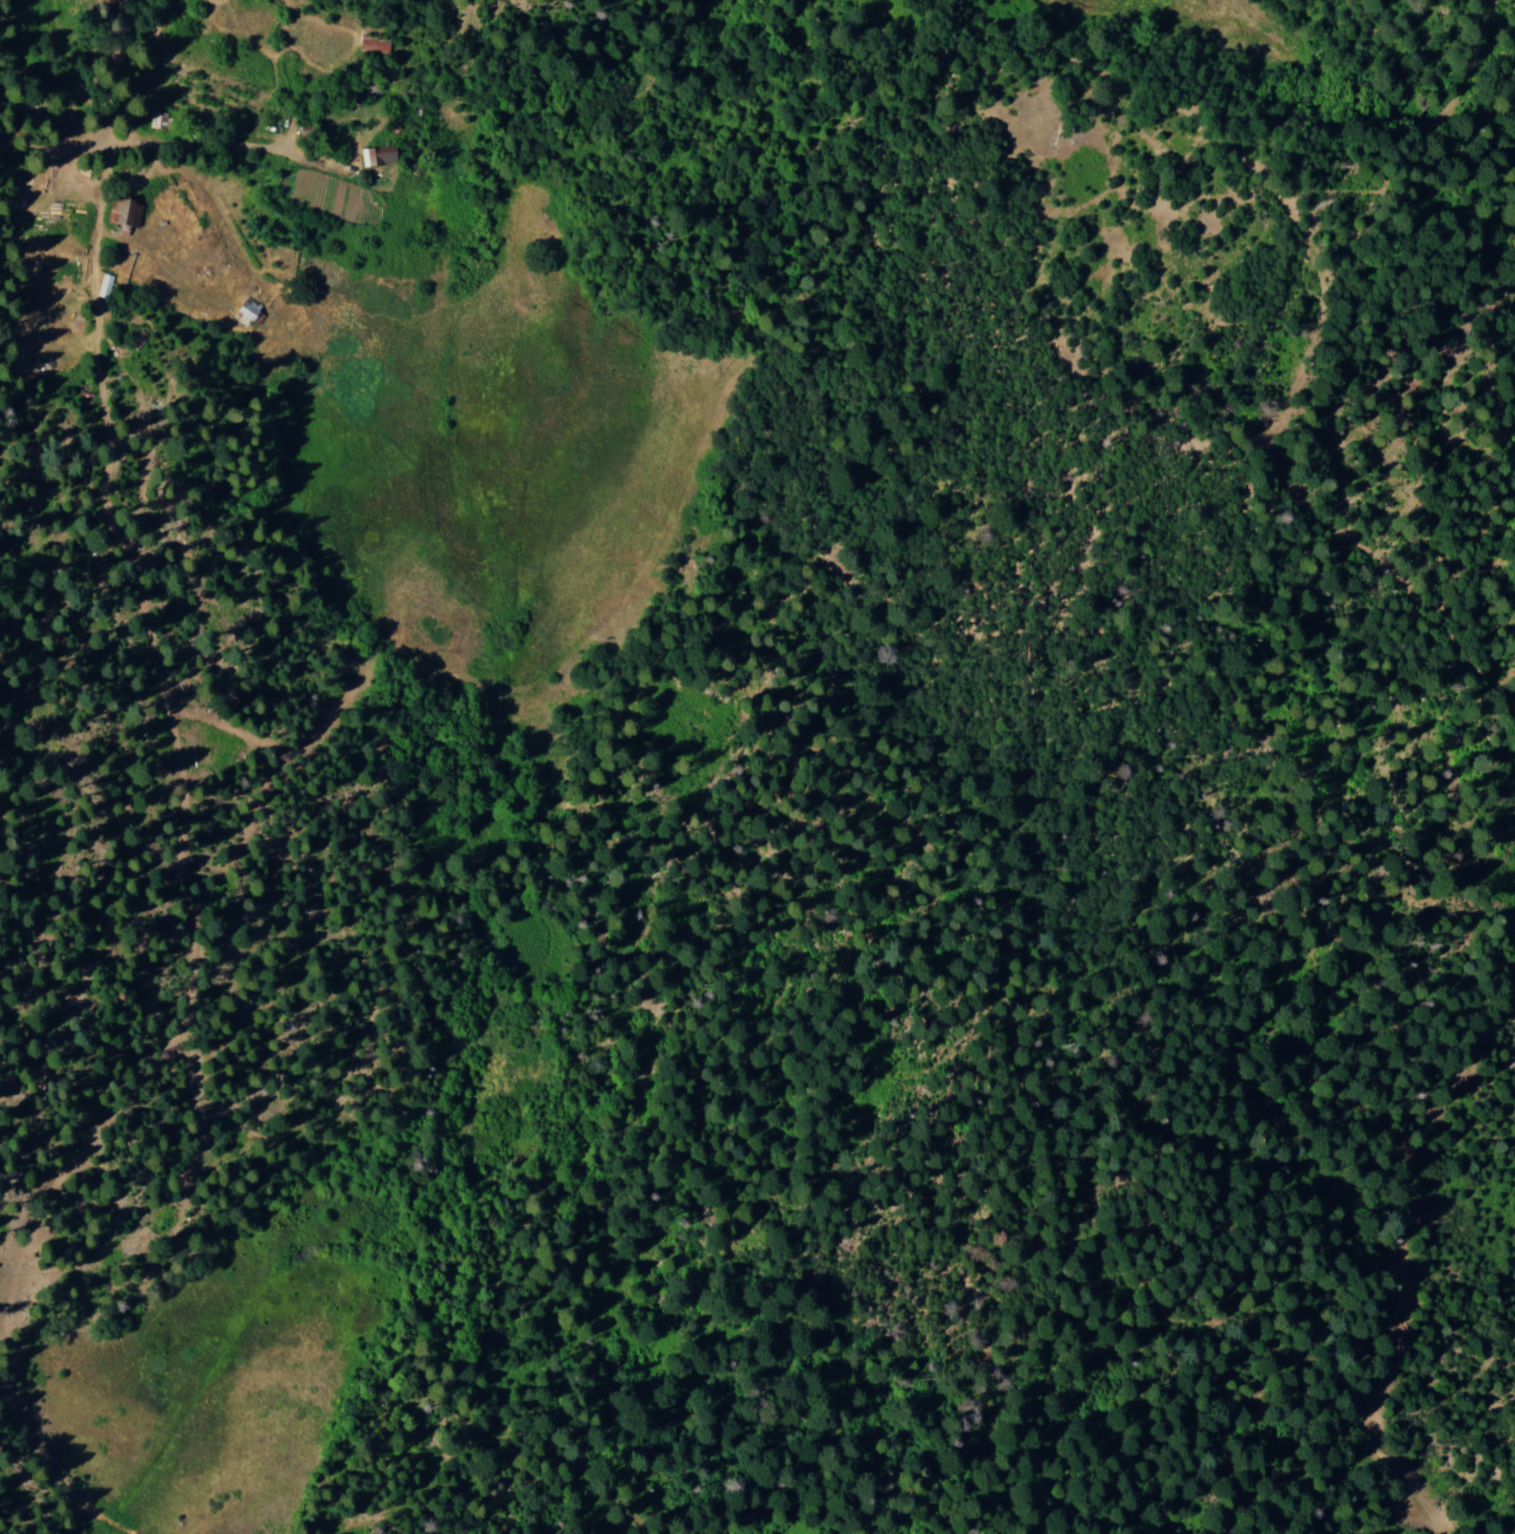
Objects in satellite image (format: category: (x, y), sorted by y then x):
road: (144, 154)
building: (371, 155)
building: (119, 215)
road: (1270, 427)

